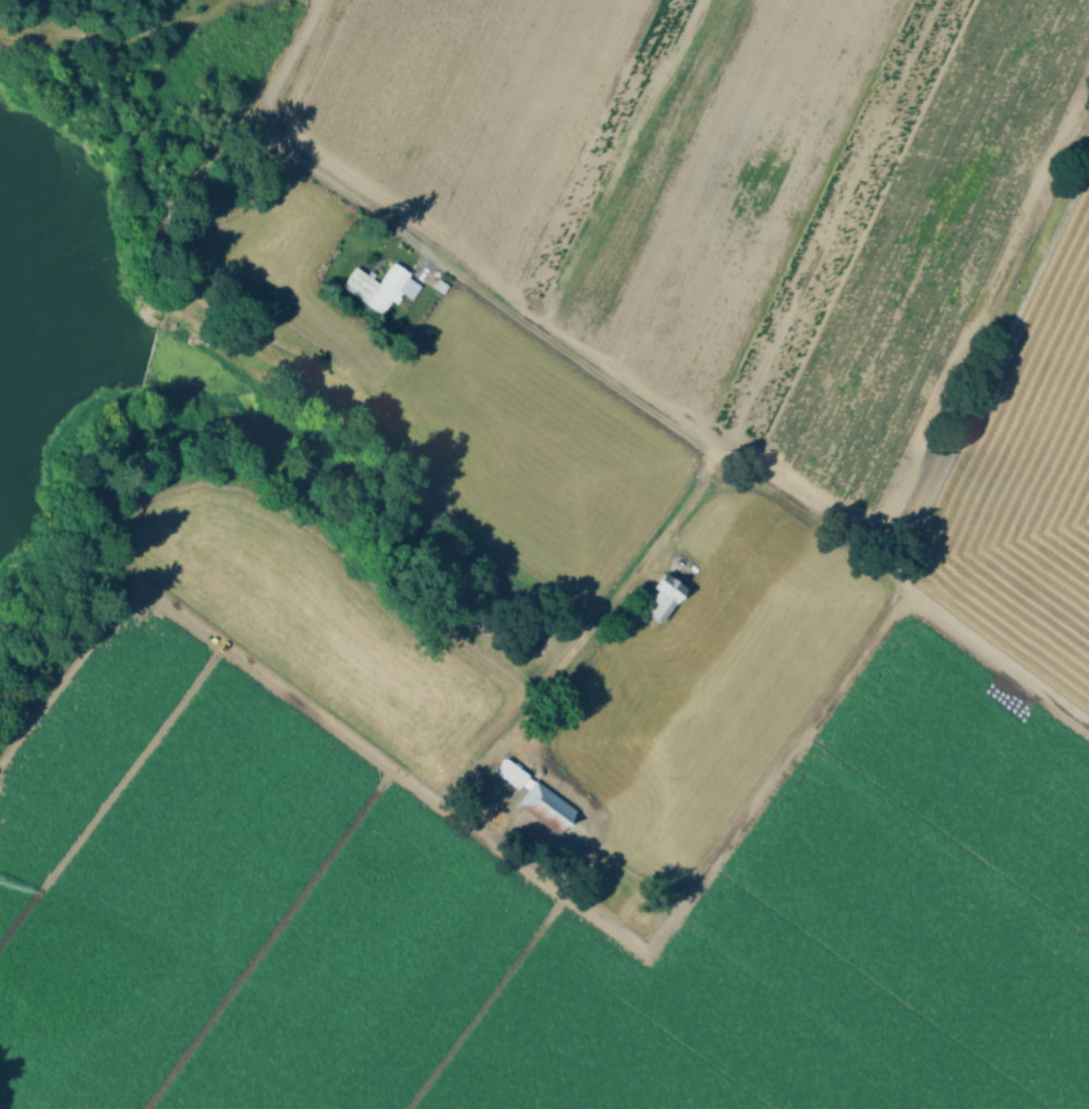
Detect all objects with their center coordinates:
building: (379, 287)
road: (593, 370)
crop: (617, 588)
building: (664, 599)
building: (537, 798)

